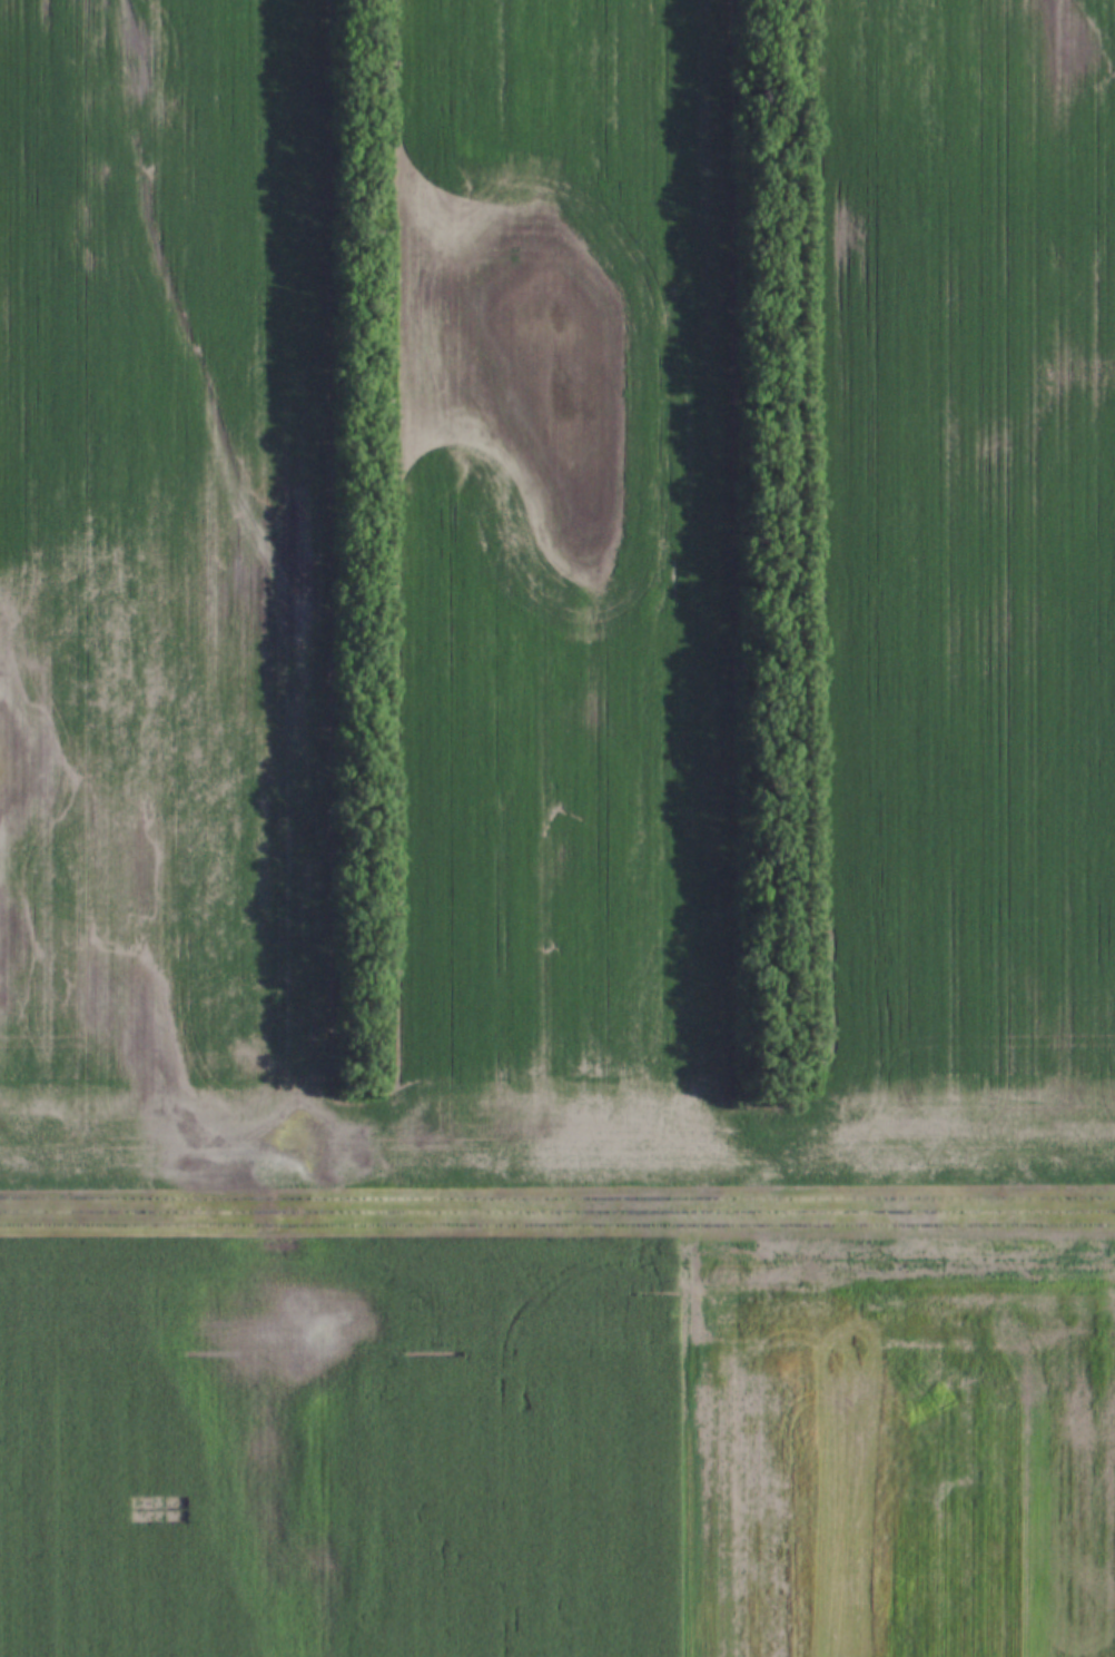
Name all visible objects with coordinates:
road: (720, 1286)

